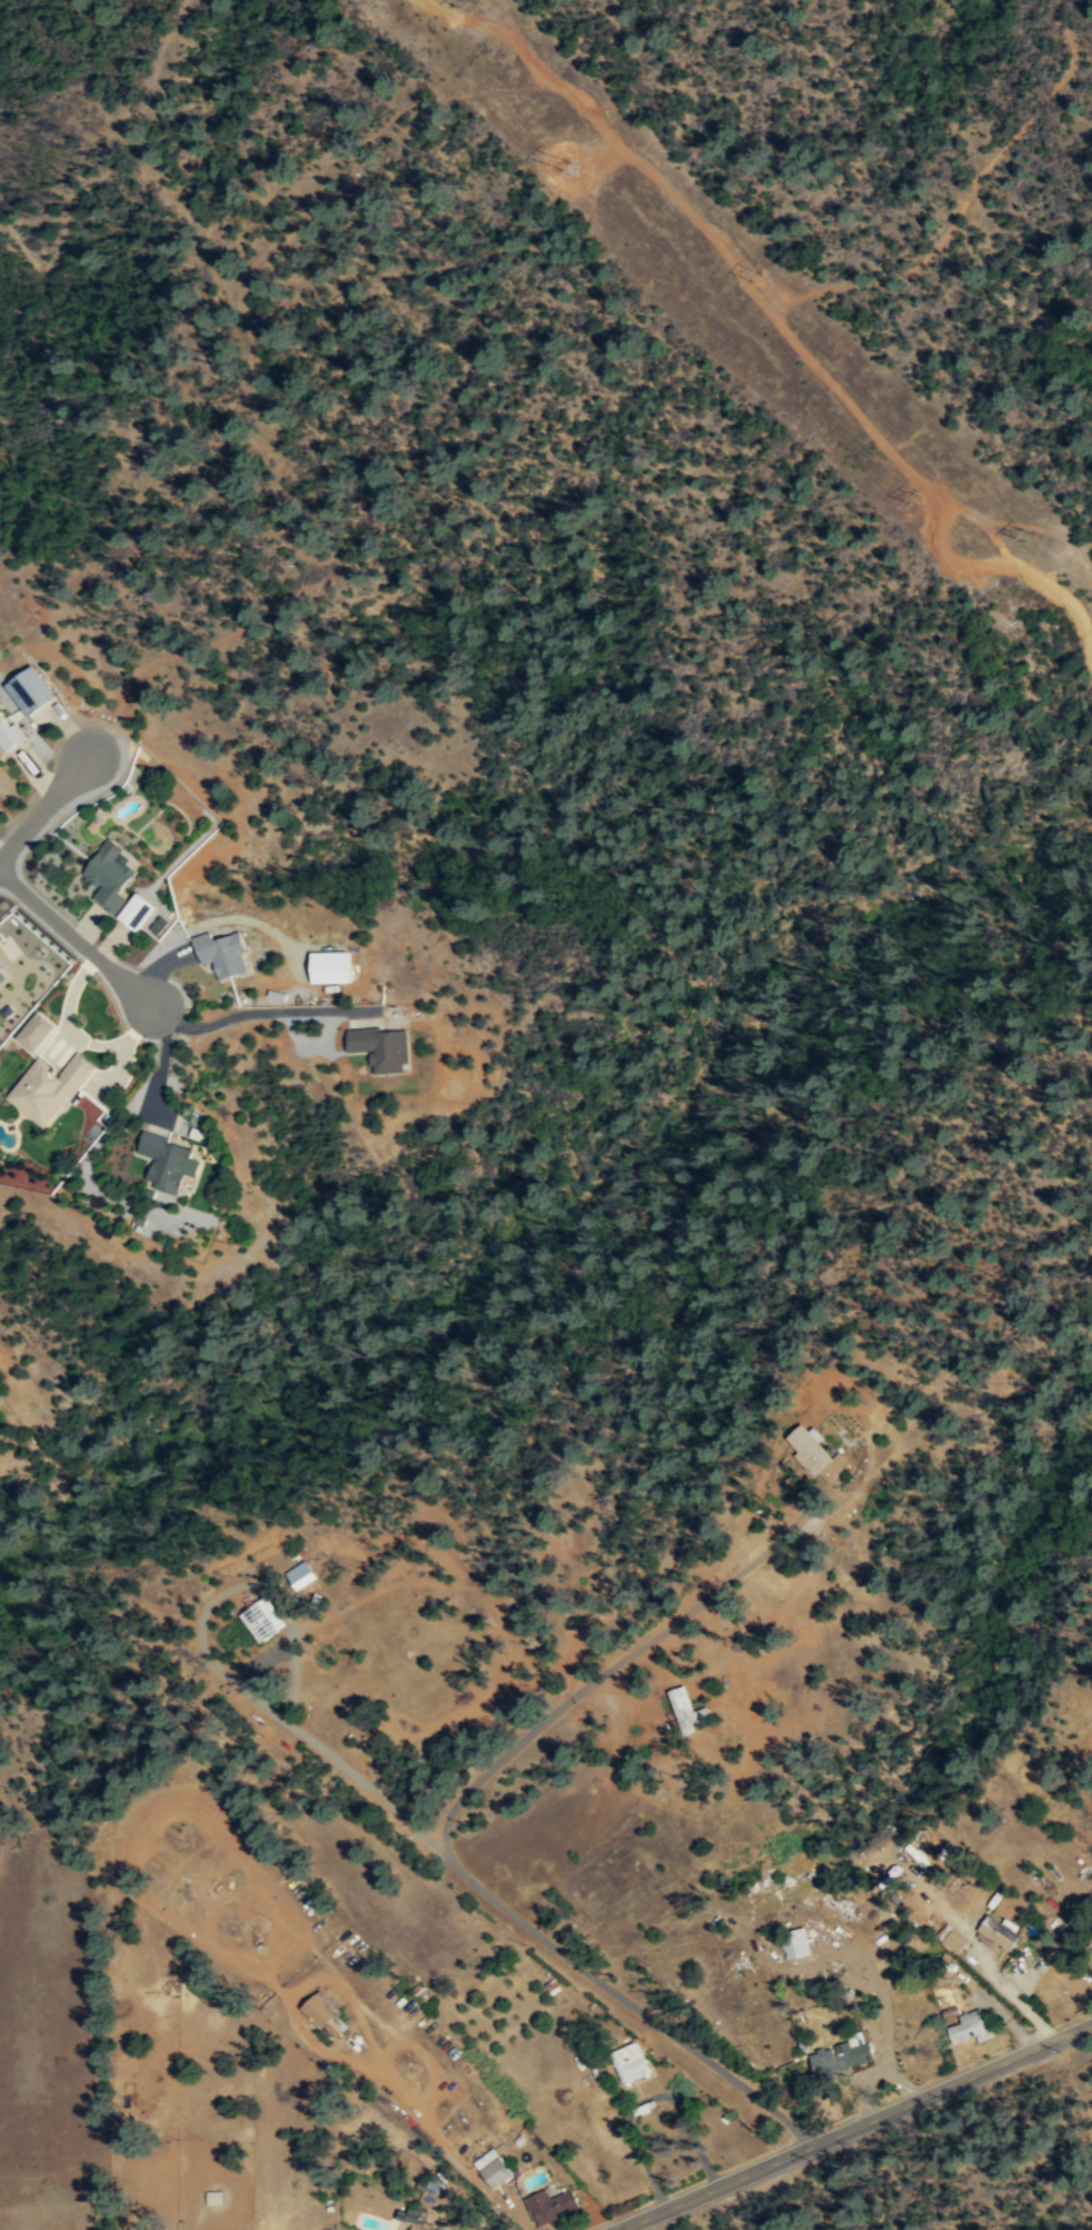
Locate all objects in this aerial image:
power tower: (477, 4)
road: (613, 135)
power tower: (573, 173)
road: (969, 192)
power tower: (758, 275)
road: (248, 379)
road: (923, 485)
power tower: (912, 505)
power tower: (1024, 538)
building: (31, 690)
building: (10, 735)
road: (47, 806)
building: (110, 875)
building: (139, 912)
road: (75, 937)
building: (224, 953)
building: (331, 967)
building: (2, 976)
road: (260, 1011)
building: (37, 1032)
building: (381, 1047)
road: (162, 1061)
building: (50, 1088)
building: (170, 1162)
building: (812, 1451)
building: (301, 1574)
building: (262, 1619)
road: (214, 1661)
building: (684, 1709)
building: (953, 1891)
building: (996, 1929)
building: (950, 1937)
road: (547, 1941)
building: (793, 1941)
building: (318, 2011)
building: (966, 2025)
building: (838, 2054)
building: (627, 2062)
road: (853, 2127)
building: (488, 2168)
building: (211, 2197)
building: (547, 2206)

